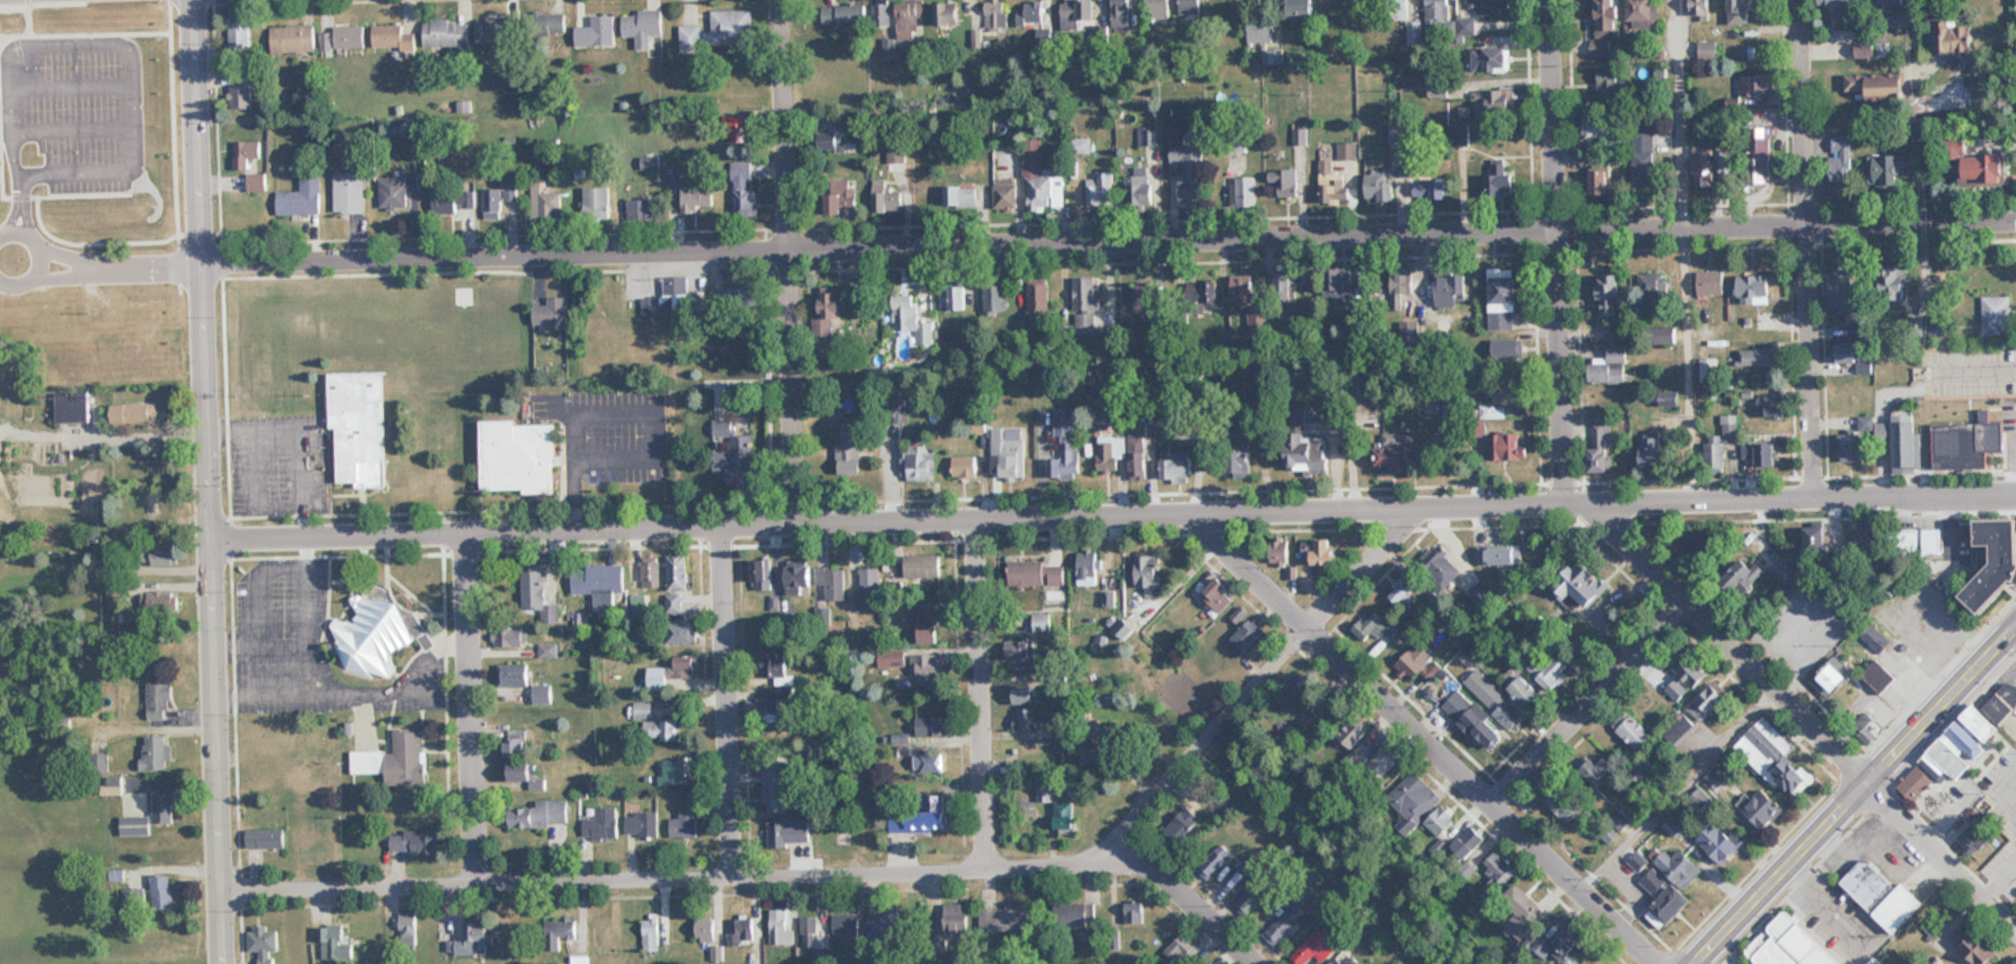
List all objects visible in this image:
building: (1835, 2)
building: (1892, 2)
building: (1494, 6)
building: (1190, 7)
building: (1157, 9)
building: (1700, 9)
building: (1300, 10)
building: (1642, 12)
building: (1738, 12)
building: (1121, 13)
building: (1229, 13)
building: (1437, 13)
building: (881, 14)
building: (995, 14)
building: (1034, 14)
building: (1079, 14)
building: (1842, 14)
building: (843, 15)
building: (947, 17)
building: (909, 19)
building: (549, 25)
building: (1605, 26)
building: (642, 27)
building: (1465, 27)
building: (498, 30)
building: (596, 33)
building: (720, 33)
building: (447, 34)
building: (238, 38)
building: (343, 38)
building: (393, 38)
building: (293, 39)
building: (1953, 39)
road: (97, 41)
building: (1707, 48)
building: (1864, 51)
building: (1490, 60)
building: (1855, 82)
building: (1758, 84)
building: (1612, 85)
building: (1887, 88)
building: (241, 96)
building: (1496, 104)
road: (1678, 115)
building: (1601, 125)
building: (736, 140)
building: (833, 142)
building: (1080, 145)
building: (245, 154)
building: (1760, 155)
building: (1643, 158)
building: (1840, 159)
building: (650, 163)
building: (1702, 163)
building: (1886, 168)
building: (1730, 169)
building: (1986, 169)
building: (1190, 171)
building: (1501, 179)
building: (1041, 180)
building: (257, 182)
building: (1600, 182)
building: (1138, 187)
building: (1284, 187)
building: (1379, 187)
building: (1430, 187)
building: (1334, 188)
building: (1100, 189)
building: (745, 191)
building: (396, 192)
building: (1245, 192)
building: (349, 193)
building: (1005, 193)
building: (886, 197)
building: (697, 198)
building: (962, 198)
building: (301, 199)
building: (498, 199)
building: (841, 199)
building: (597, 205)
building: (454, 206)
building: (553, 206)
building: (639, 209)
road: (1109, 244)
road: (1809, 250)
road: (1557, 253)
road: (37, 258)
road: (790, 261)
road: (119, 268)
road: (203, 270)
building: (1898, 274)
building: (1653, 283)
building: (1710, 283)
building: (1341, 284)
building: (1402, 288)
building: (1451, 289)
building: (1755, 289)
building: (1283, 290)
building: (1210, 291)
building: (1242, 291)
building: (1842, 291)
building: (1610, 294)
building: (954, 295)
building: (995, 296)
building: (744, 297)
building: (1038, 297)
building: (1145, 299)
building: (1503, 301)
building: (1085, 305)
building: (829, 309)
building: (552, 314)
building: (1996, 314)
building: (911, 320)
building: (1937, 328)
building: (1669, 335)
building: (1507, 349)
building: (1851, 355)
building: (1755, 357)
building: (1609, 366)
road: (1686, 366)
building: (1510, 393)
building: (1773, 405)
building: (70, 407)
building: (899, 409)
building: (1492, 411)
building: (134, 413)
building: (359, 426)
building: (1859, 442)
building: (1966, 442)
building: (1721, 443)
building: (1905, 443)
building: (1064, 444)
building: (1305, 446)
building: (1506, 446)
building: (849, 447)
building: (1600, 447)
building: (1394, 450)
building: (731, 451)
building: (1008, 452)
building: (1110, 453)
building: (1656, 453)
building: (1760, 453)
building: (517, 457)
building: (1137, 458)
building: (920, 463)
building: (965, 466)
building: (1177, 468)
building: (169, 509)
road: (1115, 517)
building: (1867, 535)
building: (1816, 540)
building: (1934, 540)
building: (1321, 550)
building: (1277, 552)
building: (163, 554)
building: (1501, 554)
building: (1441, 563)
building: (1996, 563)
building: (922, 566)
building: (1088, 567)
building: (1784, 569)
building: (1147, 571)
building: (650, 572)
building: (678, 573)
building: (763, 574)
building: (1036, 574)
building: (1745, 574)
building: (799, 578)
building: (599, 581)
building: (831, 581)
building: (1582, 584)
building: (535, 586)
building: (1217, 589)
building: (868, 590)
building: (1402, 591)
building: (1108, 599)
building: (162, 601)
building: (674, 604)
building: (1942, 619)
building: (1376, 625)
building: (927, 627)
building: (681, 632)
building: (372, 636)
building: (1247, 636)
building: (1872, 636)
building: (509, 637)
road: (1731, 645)
building: (547, 650)
building: (1021, 657)
building: (774, 665)
building: (1416, 667)
building: (925, 669)
building: (1551, 670)
building: (671, 672)
building: (513, 674)
building: (1878, 675)
building: (1685, 677)
building: (1829, 679)
building: (1301, 684)
road: (1261, 688)
building: (1526, 692)
building: (1488, 693)
building: (542, 694)
building: (1023, 695)
road: (981, 696)
building: (158, 701)
building: (1707, 701)
road: (732, 702)
building: (764, 706)
road: (1593, 707)
building: (642, 710)
road: (473, 711)
building: (1027, 719)
building: (1471, 719)
building: (1980, 722)
building: (1863, 726)
building: (928, 727)
building: (1678, 728)
building: (660, 730)
building: (1352, 732)
building: (1635, 734)
building: (1770, 740)
road: (1425, 742)
building: (513, 743)
road: (220, 751)
building: (155, 752)
building: (1953, 752)
building: (395, 759)
building: (1383, 761)
building: (925, 763)
building: (1598, 767)
building: (678, 768)
building: (527, 775)
building: (1793, 776)
building: (1916, 782)
building: (111, 788)
building: (771, 789)
road: (1858, 795)
building: (1413, 800)
building: (1562, 807)
building: (1761, 807)
building: (1058, 811)
building: (538, 814)
building: (151, 815)
building: (920, 818)
building: (1441, 821)
building: (600, 823)
building: (684, 823)
building: (641, 824)
building: (1182, 825)
building: (788, 832)
building: (266, 839)
building: (412, 842)
building: (1469, 842)
building: (1970, 842)
building: (1719, 844)
road: (1942, 858)
building: (1214, 862)
building: (1680, 867)
building: (1499, 871)
road: (759, 878)
building: (1654, 881)
building: (161, 892)
building: (1254, 893)
building: (1882, 895)
building: (133, 900)
building: (1671, 904)
building: (1520, 910)
building: (1134, 912)
building: (1073, 916)
building: (956, 919)
building: (1003, 920)
building: (845, 924)
building: (885, 927)
building: (705, 928)
building: (780, 928)
building: (407, 929)
building: (1280, 929)
building: (740, 930)
building: (808, 932)
building: (649, 933)
building: (558, 934)
building: (470, 940)
building: (333, 942)
building: (264, 943)
building: (1790, 945)
building: (1562, 946)
building: (1316, 947)
building: (1978, 949)
building: (1179, 953)
building: (1337, 961)
building: (1876, 961)

